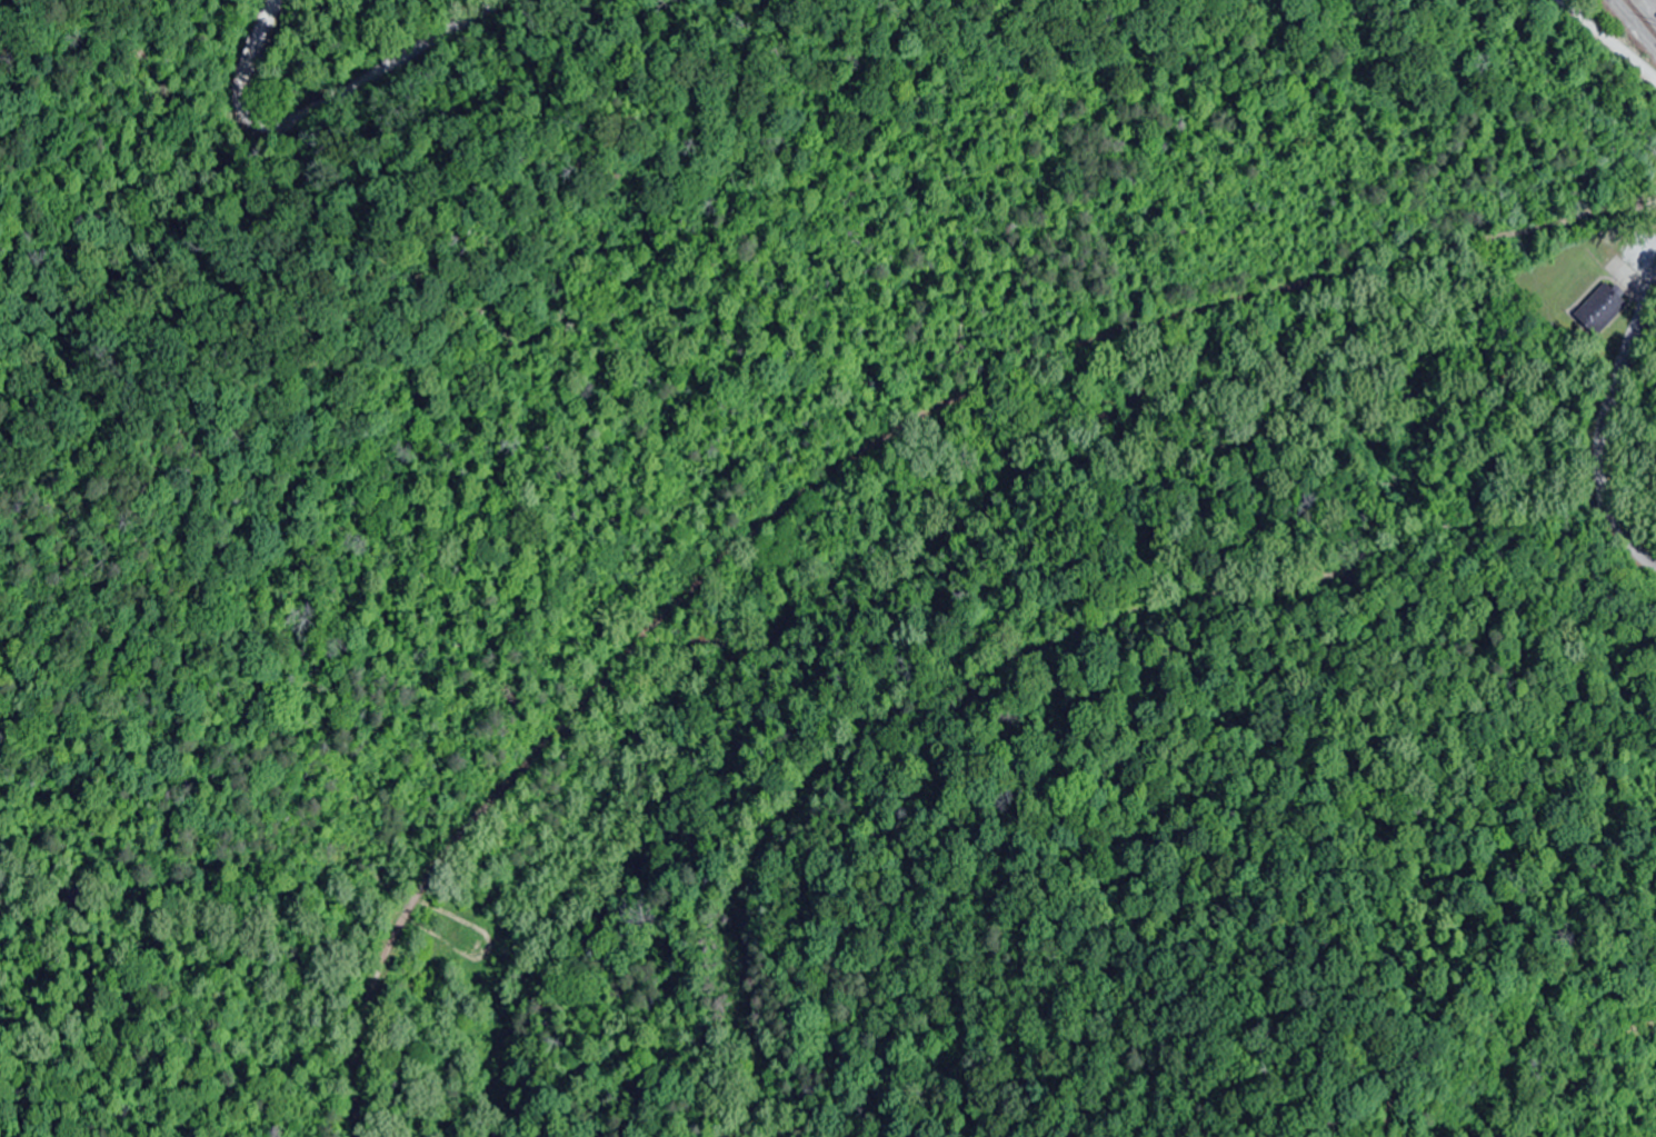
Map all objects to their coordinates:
railway: (1642, 16)
road: (1612, 39)
road: (303, 108)
building: (1600, 309)
road: (1625, 365)
road: (710, 452)
road: (1604, 465)
road: (1623, 538)
road: (1002, 654)

